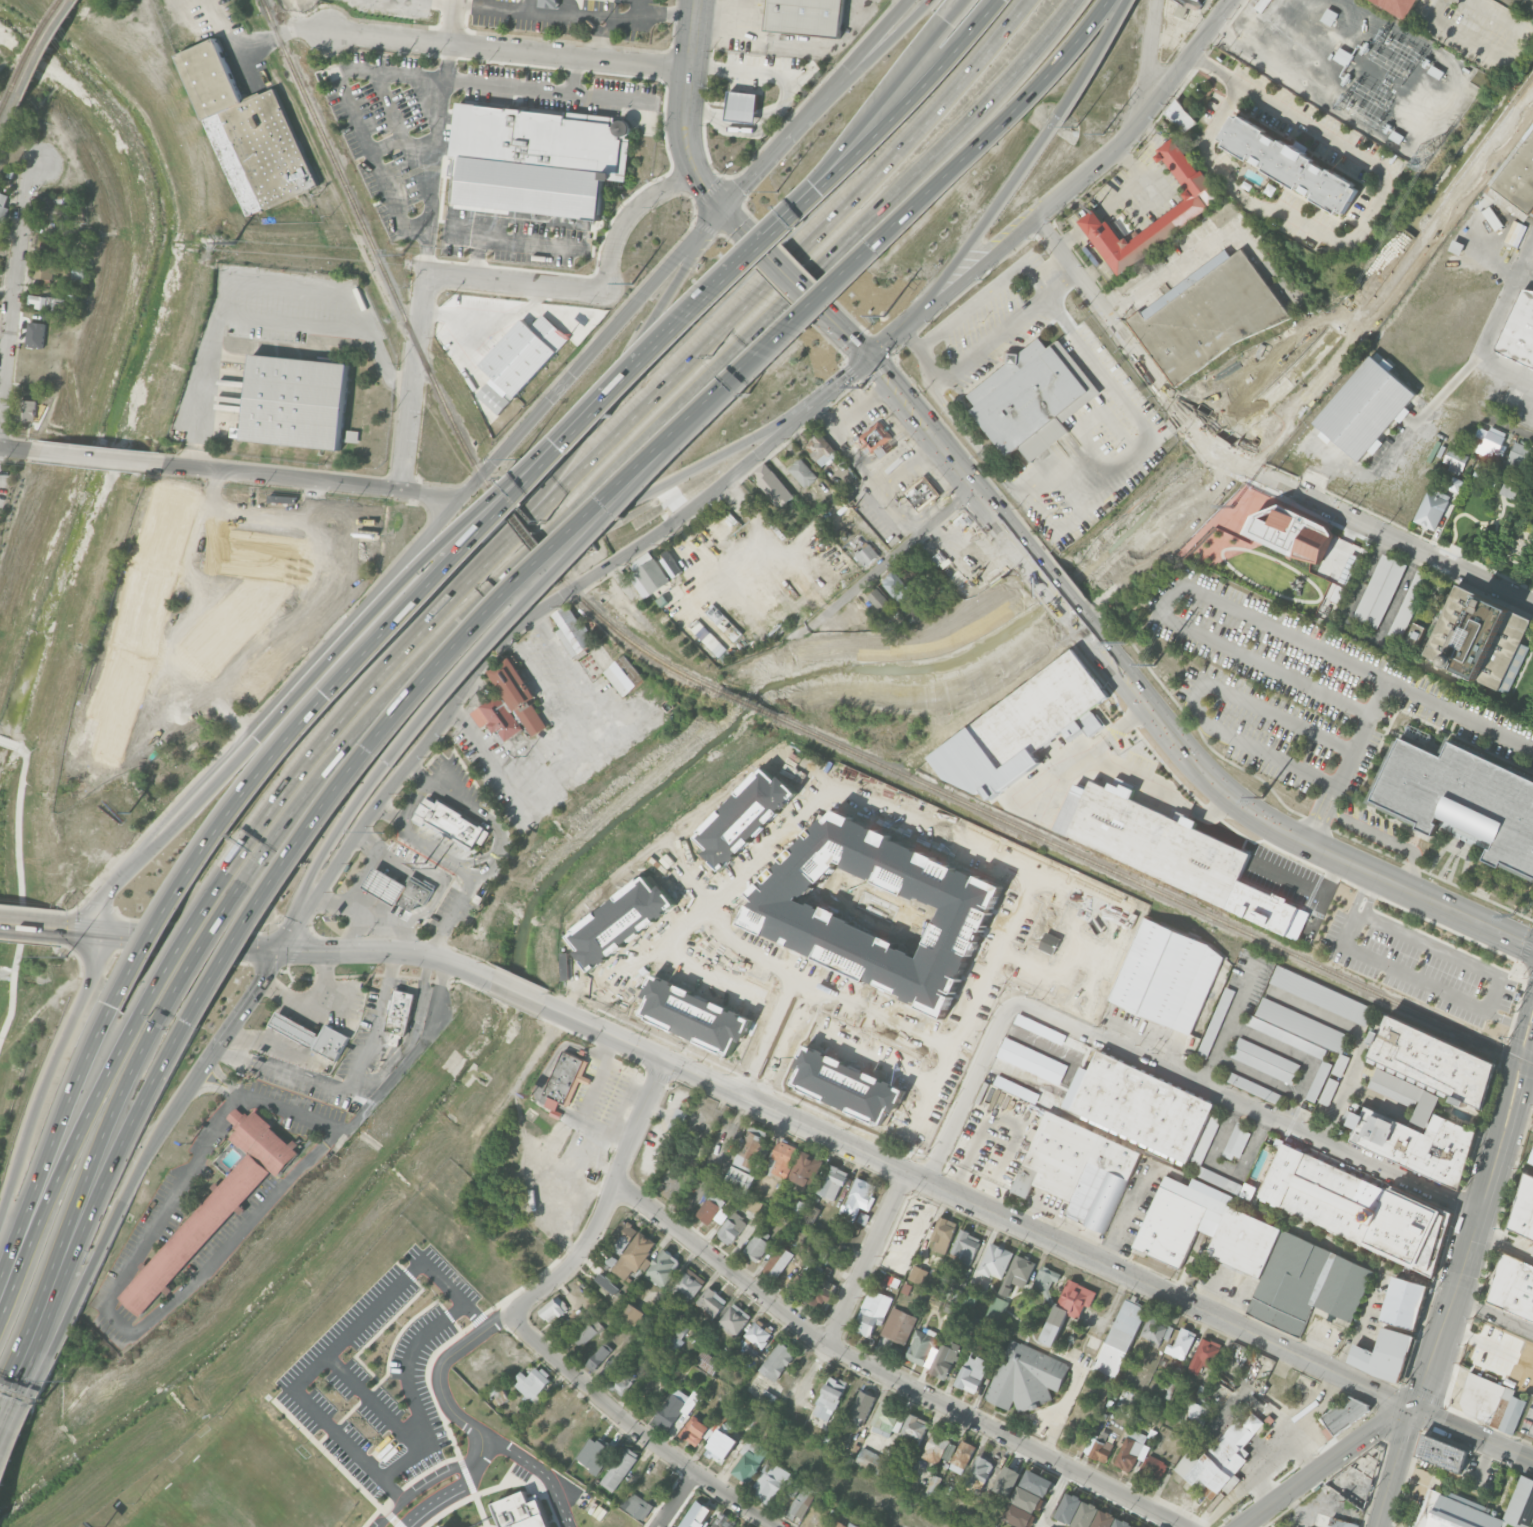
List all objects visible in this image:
road: (909, 0)
building: (549, 3)
building: (1190, 3)
building: (1260, 4)
road: (960, 6)
building: (1399, 6)
road: (548, 13)
road: (668, 15)
building: (1328, 16)
building: (806, 17)
road: (729, 20)
road: (641, 21)
road: (453, 22)
road: (283, 31)
road: (1221, 33)
road: (600, 39)
road: (813, 46)
road: (510, 50)
road: (1494, 51)
railway: (32, 52)
building: (1342, 56)
road: (1149, 59)
road: (1091, 63)
road: (864, 64)
power substation: (1359, 70)
building: (1435, 72)
road: (687, 87)
road: (524, 89)
road: (784, 98)
road: (610, 99)
building: (742, 106)
railway: (2, 107)
building: (1181, 117)
building: (249, 133)
power tower: (1104, 134)
building: (1396, 136)
power tower: (1418, 155)
building: (536, 159)
road: (856, 159)
road: (373, 162)
road: (832, 163)
building: (1291, 163)
road: (1155, 177)
building: (1519, 178)
road: (1142, 186)
road: (710, 190)
road: (1065, 194)
building: (1199, 202)
building: (2, 206)
traffic signals: (724, 207)
building: (58, 211)
building: (1223, 211)
road: (629, 215)
road: (1094, 223)
road: (1365, 223)
road: (980, 225)
road: (740, 226)
road: (57, 229)
building: (1515, 233)
road: (1072, 239)
power tower: (233, 240)
railway: (372, 244)
building: (55, 249)
power tower: (397, 254)
road: (789, 262)
road: (13, 265)
building: (45, 270)
road: (813, 271)
building: (78, 273)
road: (787, 275)
power tower: (631, 281)
road: (1043, 282)
road: (253, 285)
road: (424, 292)
road: (991, 294)
road: (1506, 299)
building: (48, 303)
road: (695, 310)
road: (487, 312)
power tower: (885, 316)
building: (1209, 317)
road: (294, 322)
road: (1004, 329)
road: (843, 331)
building: (1519, 331)
building: (35, 334)
building: (525, 353)
road: (924, 356)
traffic signals: (869, 358)
road: (180, 363)
road: (1100, 367)
road: (1508, 369)
road: (878, 370)
road: (618, 375)
road: (843, 381)
power tower: (862, 386)
building: (496, 394)
building: (1026, 396)
building: (296, 401)
building: (1366, 408)
building: (27, 409)
road: (851, 415)
road: (1091, 420)
road: (1523, 431)
building: (876, 436)
building: (1494, 440)
building: (887, 446)
road: (12, 447)
building: (822, 450)
building: (1519, 455)
road: (96, 457)
building: (1455, 457)
road: (494, 461)
road: (1239, 466)
road: (958, 470)
building: (803, 472)
building: (1486, 472)
road: (314, 481)
road: (887, 481)
road: (622, 485)
building: (772, 485)
road: (655, 487)
building: (1508, 491)
building: (921, 492)
power tower: (1232, 507)
building: (1431, 510)
park: (1496, 514)
road: (1051, 517)
road: (469, 522)
road: (760, 525)
railway: (520, 528)
road: (507, 533)
road: (513, 534)
building: (1292, 534)
road: (593, 536)
road: (535, 545)
building: (866, 553)
road: (748, 557)
building: (642, 560)
road: (884, 563)
road: (513, 568)
building: (649, 577)
building: (896, 585)
road: (1051, 586)
building: (1379, 591)
building: (1336, 594)
road: (1165, 599)
building: (884, 605)
building: (572, 631)
building: (1414, 634)
road: (510, 639)
railway: (630, 639)
building: (1479, 639)
power tower: (1125, 642)
road: (378, 643)
building: (270, 659)
power tower: (1154, 664)
building: (624, 675)
road: (1406, 689)
road: (1198, 693)
building: (519, 696)
railway: (749, 703)
building: (1034, 715)
building: (497, 718)
road: (333, 728)
road: (348, 740)
road: (9, 742)
road: (578, 767)
building: (748, 790)
power tower: (1264, 792)
building: (1463, 797)
road: (1314, 809)
road: (183, 817)
road: (1330, 817)
building: (460, 819)
road: (1270, 824)
road: (330, 836)
road: (1391, 838)
road: (789, 843)
building: (1171, 854)
building: (878, 860)
road: (498, 861)
building: (641, 871)
road: (363, 877)
road: (439, 887)
road: (21, 889)
building: (399, 889)
railway: (1155, 889)
road: (1359, 895)
road: (1371, 895)
road: (324, 899)
building: (401, 912)
road: (452, 916)
power tower: (1511, 916)
road: (359, 919)
road: (29, 923)
road: (77, 929)
building: (728, 930)
traffic signals: (95, 931)
building: (1072, 934)
road: (405, 938)
road: (187, 940)
road: (200, 943)
road: (179, 944)
traffic signals: (279, 949)
road: (386, 952)
parking lot: (1425, 957)
road: (993, 962)
road: (1060, 965)
building: (830, 968)
road: (805, 980)
road: (1093, 980)
building: (697, 987)
road: (517, 990)
building: (1321, 995)
road: (309, 1002)
road: (243, 1005)
road: (1489, 1005)
road: (324, 1007)
building: (400, 1011)
road: (1503, 1019)
building: (1302, 1025)
building: (822, 1033)
building: (312, 1035)
building: (1287, 1037)
road: (1360, 1038)
road: (411, 1041)
road: (1532, 1041)
road: (410, 1057)
road: (1513, 1059)
building: (1265, 1060)
road: (46, 1074)
road: (218, 1075)
building: (564, 1078)
road: (347, 1084)
road: (211, 1085)
road: (1528, 1086)
building: (1254, 1088)
road: (1521, 1088)
road: (934, 1089)
road: (969, 1090)
building: (1422, 1100)
road: (1247, 1103)
building: (1140, 1105)
building: (914, 1111)
building: (888, 1115)
building: (678, 1120)
road: (53, 1139)
road: (73, 1141)
building: (1237, 1141)
road: (596, 1142)
road: (613, 1144)
building: (749, 1150)
building: (1531, 1158)
building: (782, 1160)
road: (604, 1164)
building: (1531, 1165)
building: (806, 1169)
building: (1077, 1170)
building: (740, 1178)
road: (84, 1179)
building: (832, 1182)
road: (593, 1188)
building: (1248, 1191)
building: (859, 1198)
road: (607, 1200)
road: (93, 1203)
road: (977, 1205)
building: (754, 1206)
building: (1358, 1207)
building: (1524, 1208)
building: (712, 1209)
building: (211, 1211)
road: (1269, 1216)
building: (863, 1218)
road: (109, 1228)
building: (732, 1228)
building: (943, 1234)
building: (624, 1236)
road: (1503, 1243)
building: (758, 1244)
building: (966, 1246)
building: (636, 1256)
building: (1256, 1256)
road: (868, 1258)
building: (996, 1261)
building: (778, 1262)
building: (663, 1268)
road: (1460, 1271)
building: (1017, 1273)
building: (917, 1274)
building: (1045, 1278)
building: (608, 1283)
building: (801, 1283)
building: (688, 1284)
building: (1513, 1284)
building: (822, 1293)
road: (178, 1297)
building: (966, 1299)
road: (1113, 1301)
building: (711, 1302)
building: (1405, 1302)
building: (664, 1306)
building: (554, 1308)
building: (996, 1309)
building: (1067, 1309)
building: (872, 1312)
road: (1492, 1314)
building: (635, 1315)
building: (577, 1316)
building: (734, 1320)
building: (972, 1322)
building: (898, 1325)
building: (1157, 1330)
building: (587, 1331)
building: (679, 1335)
building: (757, 1336)
building: (1120, 1338)
building: (1182, 1343)
building: (1091, 1345)
building: (922, 1346)
road: (334, 1348)
building: (1205, 1355)
building: (1386, 1355)
building: (599, 1357)
building: (943, 1360)
building: (706, 1361)
building: (777, 1361)
building: (611, 1366)
road: (439, 1370)
road: (811, 1373)
building: (971, 1373)
road: (885, 1375)
building: (1025, 1377)
building: (623, 1380)
building: (533, 1383)
building: (1167, 1383)
road: (410, 1392)
building: (1102, 1393)
road: (1, 1398)
building: (829, 1398)
building: (1491, 1402)
road: (374, 1403)
building: (674, 1407)
traffic signals: (1413, 1407)
building: (861, 1409)
building: (1195, 1415)
building: (1342, 1415)
building: (756, 1417)
building: (887, 1419)
road: (8, 1422)
building: (913, 1428)
road: (635, 1430)
building: (699, 1430)
road: (1473, 1432)
road: (14, 1439)
building: (721, 1446)
building: (938, 1447)
building: (1099, 1447)
road: (1305, 1447)
building: (1132, 1449)
road: (1270, 1449)
road: (482, 1452)
building: (1442, 1452)
building: (593, 1454)
building: (1221, 1456)
building: (961, 1457)
building: (870, 1460)
building: (749, 1461)
road: (1326, 1464)
road: (1396, 1467)
building: (620, 1469)
building: (1153, 1469)
road: (542, 1471)
building: (978, 1474)
road: (1419, 1474)
building: (1358, 1476)
building: (770, 1481)
building: (1008, 1481)
park: (246, 1483)
building: (933, 1484)
road: (421, 1489)
road: (1260, 1489)
building: (1032, 1490)
road: (438, 1496)
road: (1052, 1497)
road: (675, 1498)
building: (798, 1501)
building: (637, 1505)
building: (1069, 1508)
building: (1477, 1510)
building: (522, 1512)
building: (1086, 1514)
building: (697, 1515)
building: (1019, 1516)
building: (1104, 1519)
building: (723, 1521)
building: (1331, 1522)
building: (1122, 1523)
building: (840, 1524)
road: (1044, 1525)
building: (1281, 1525)
building: (444, 1526)
building: (874, 1526)
building: (1133, 1526)
building: (1276, 1526)

